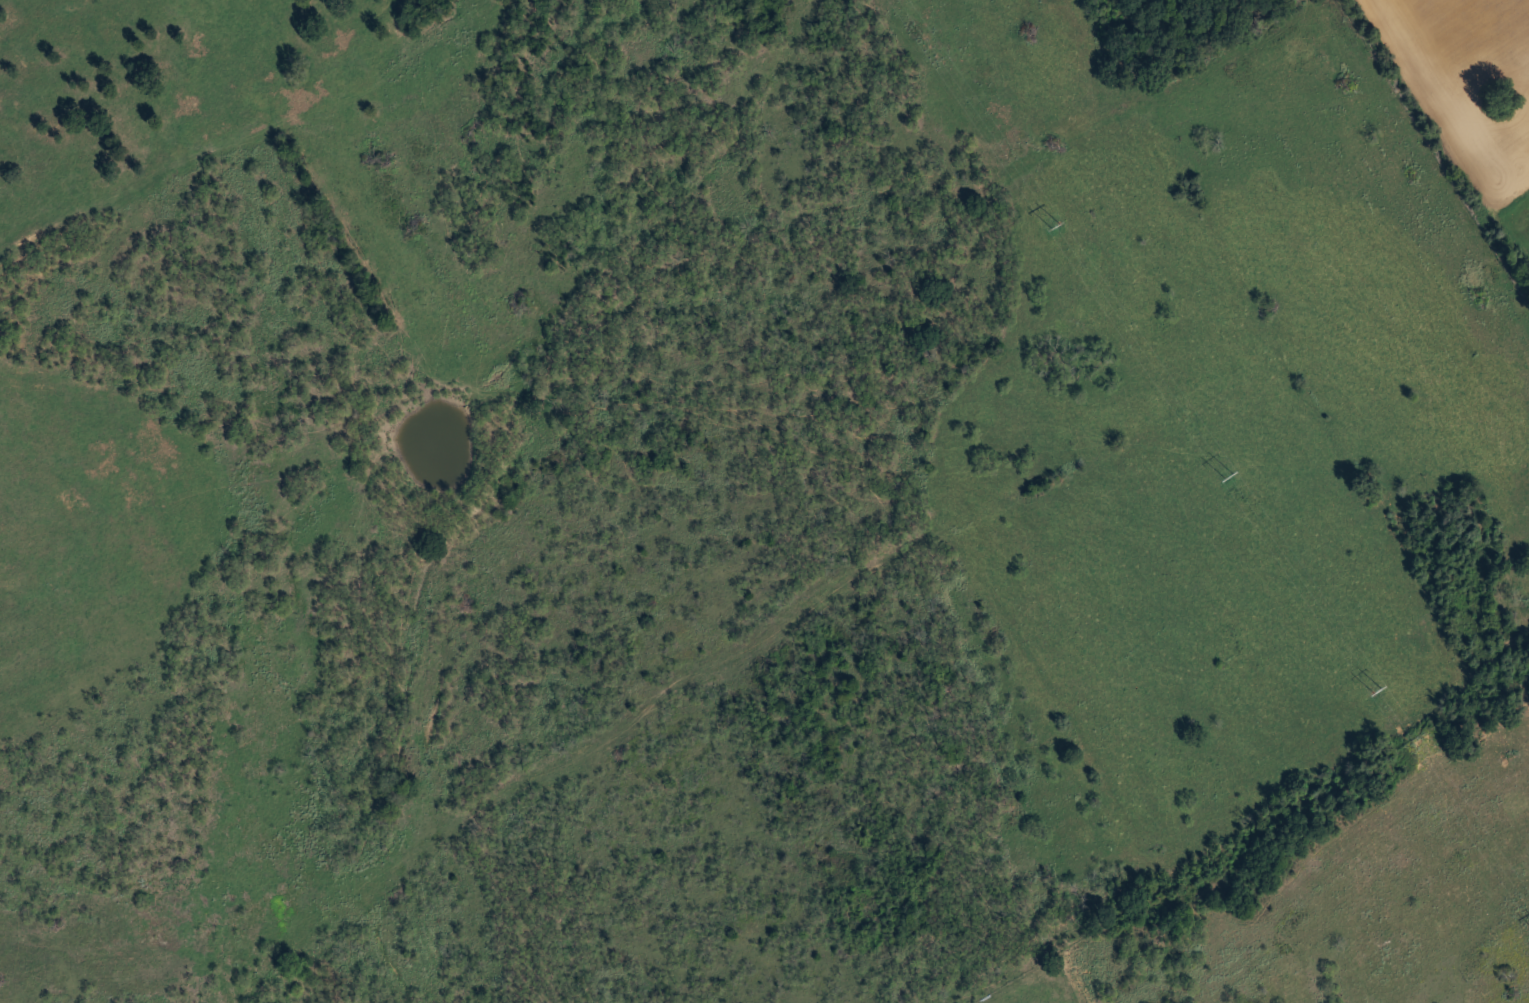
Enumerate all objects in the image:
power tower: (1380, 688)
road: (475, 842)

